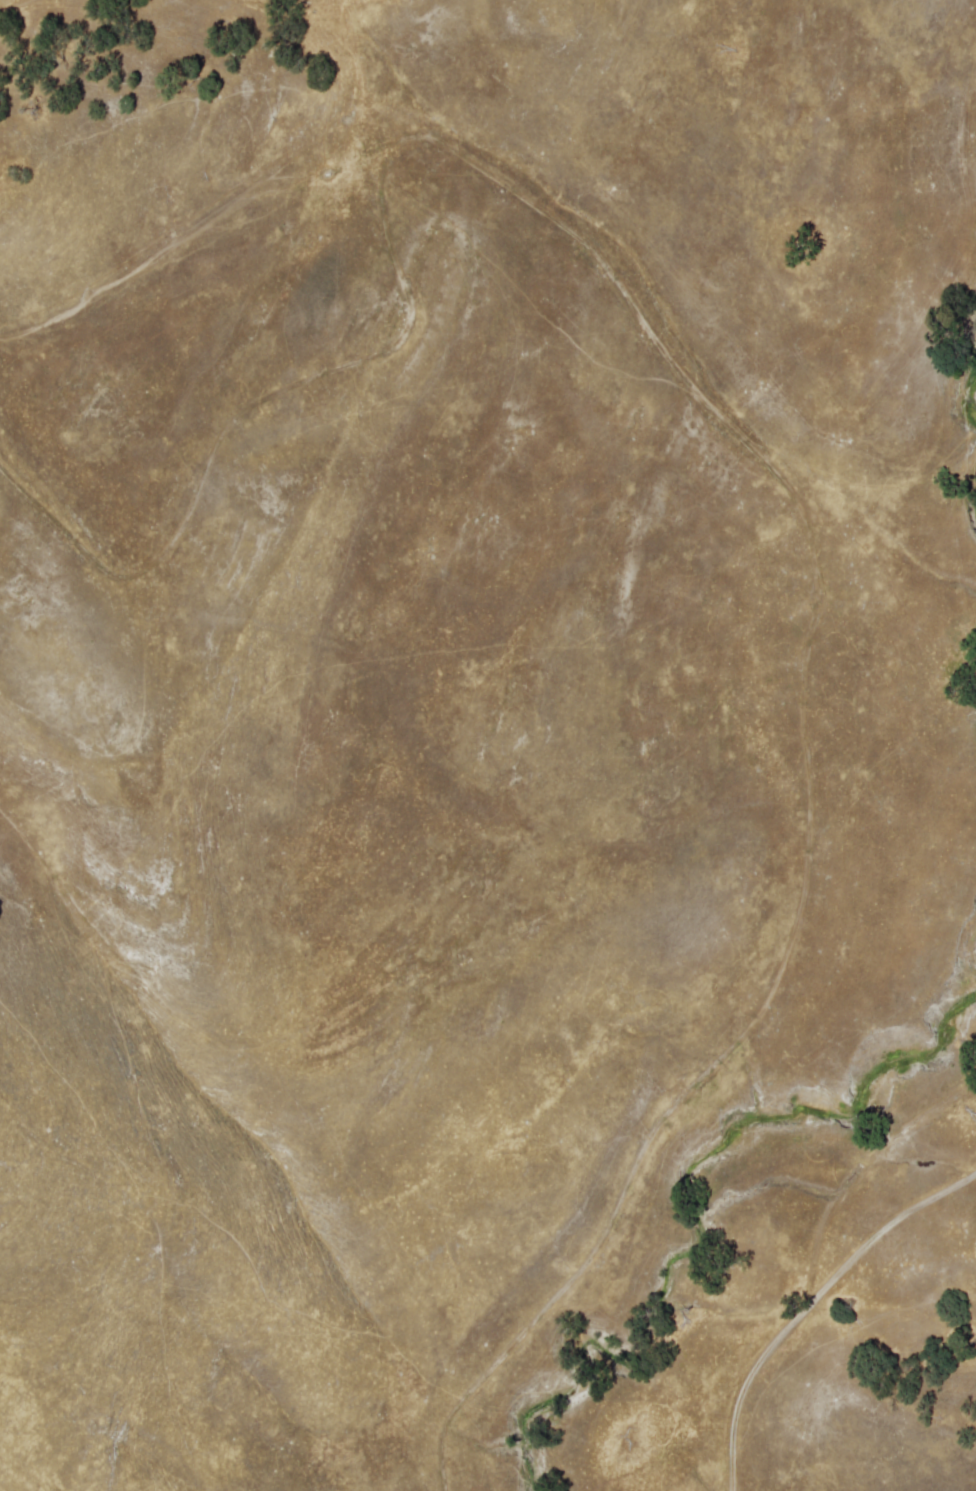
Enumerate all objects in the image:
road: (811, 1261)

